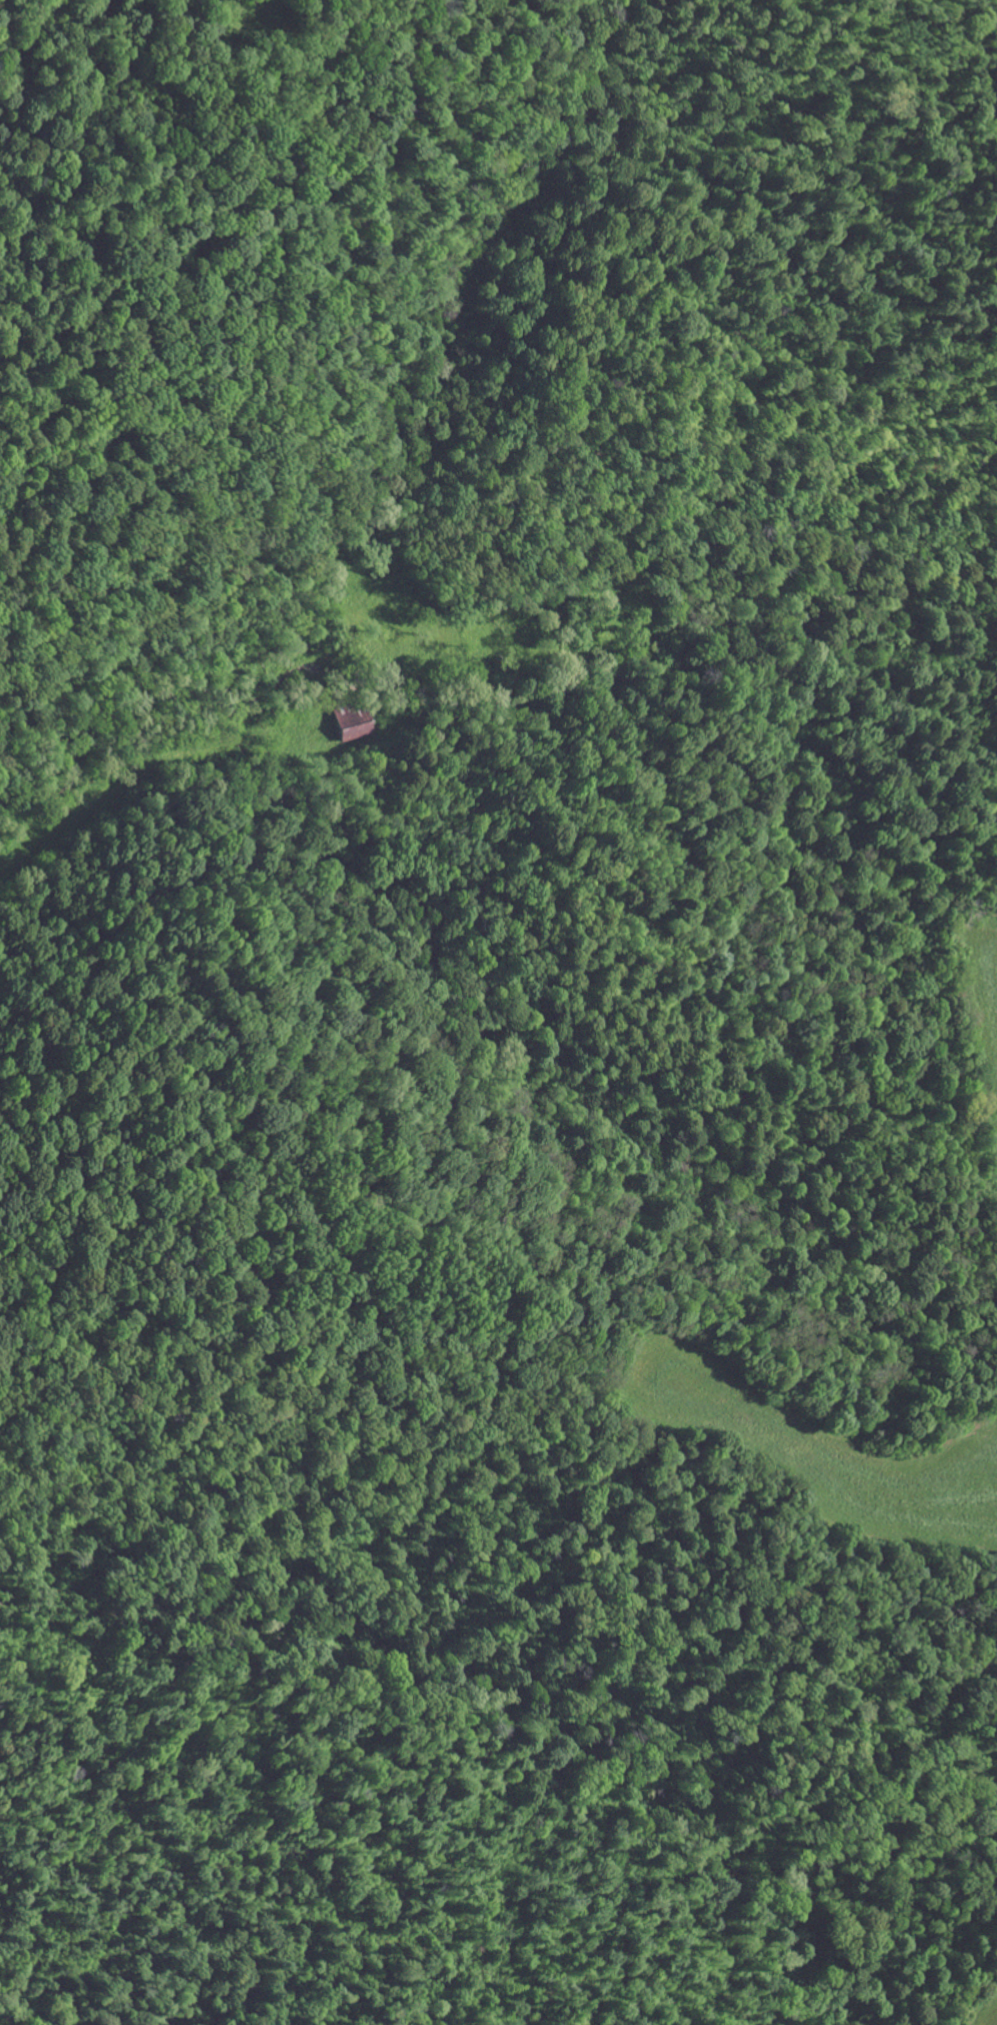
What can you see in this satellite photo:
road: (168, 706)

